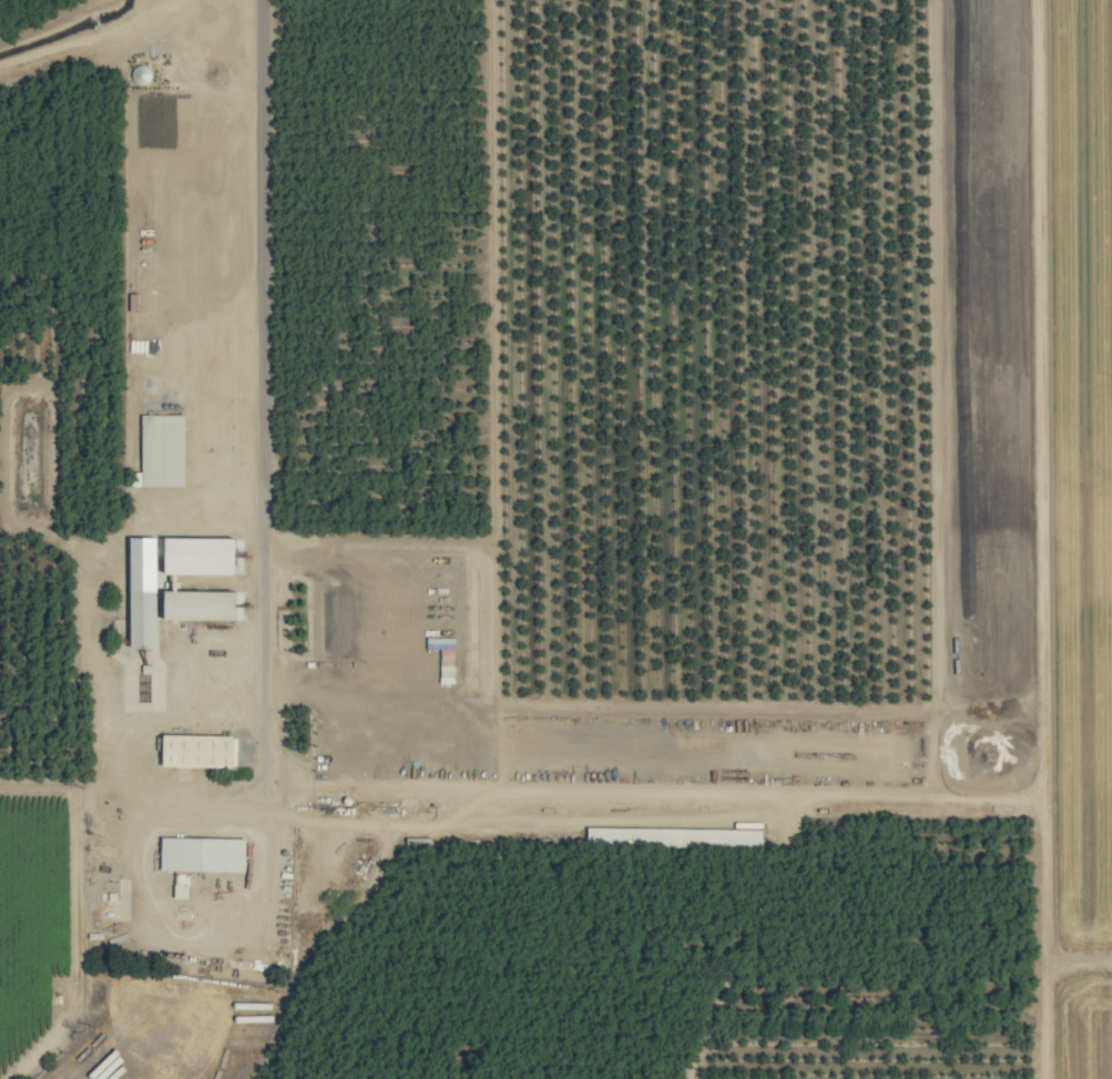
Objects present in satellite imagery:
road: (249, 395)
building: (164, 448)
crop: (555, 539)
building: (202, 556)
building: (145, 559)
building: (201, 604)
road: (943, 739)
building: (198, 751)
road: (124, 787)
building: (227, 852)
road: (73, 943)

